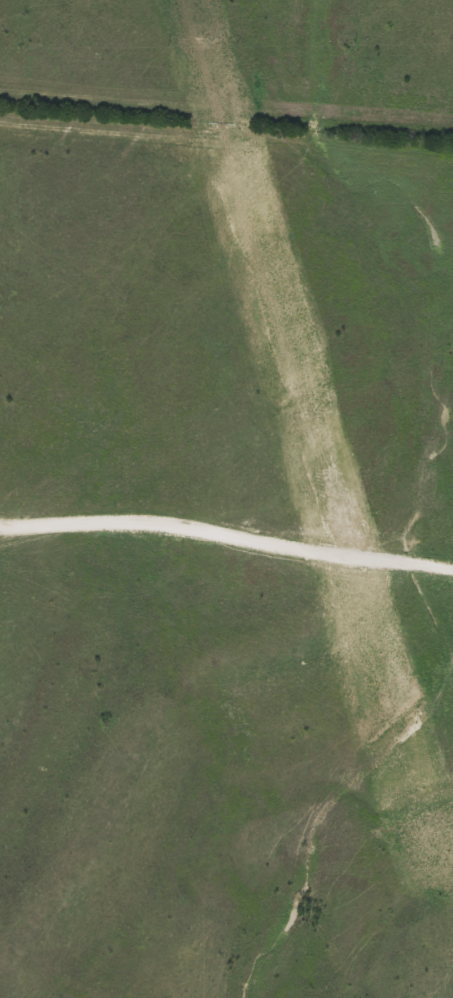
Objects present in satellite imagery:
road: (227, 531)

